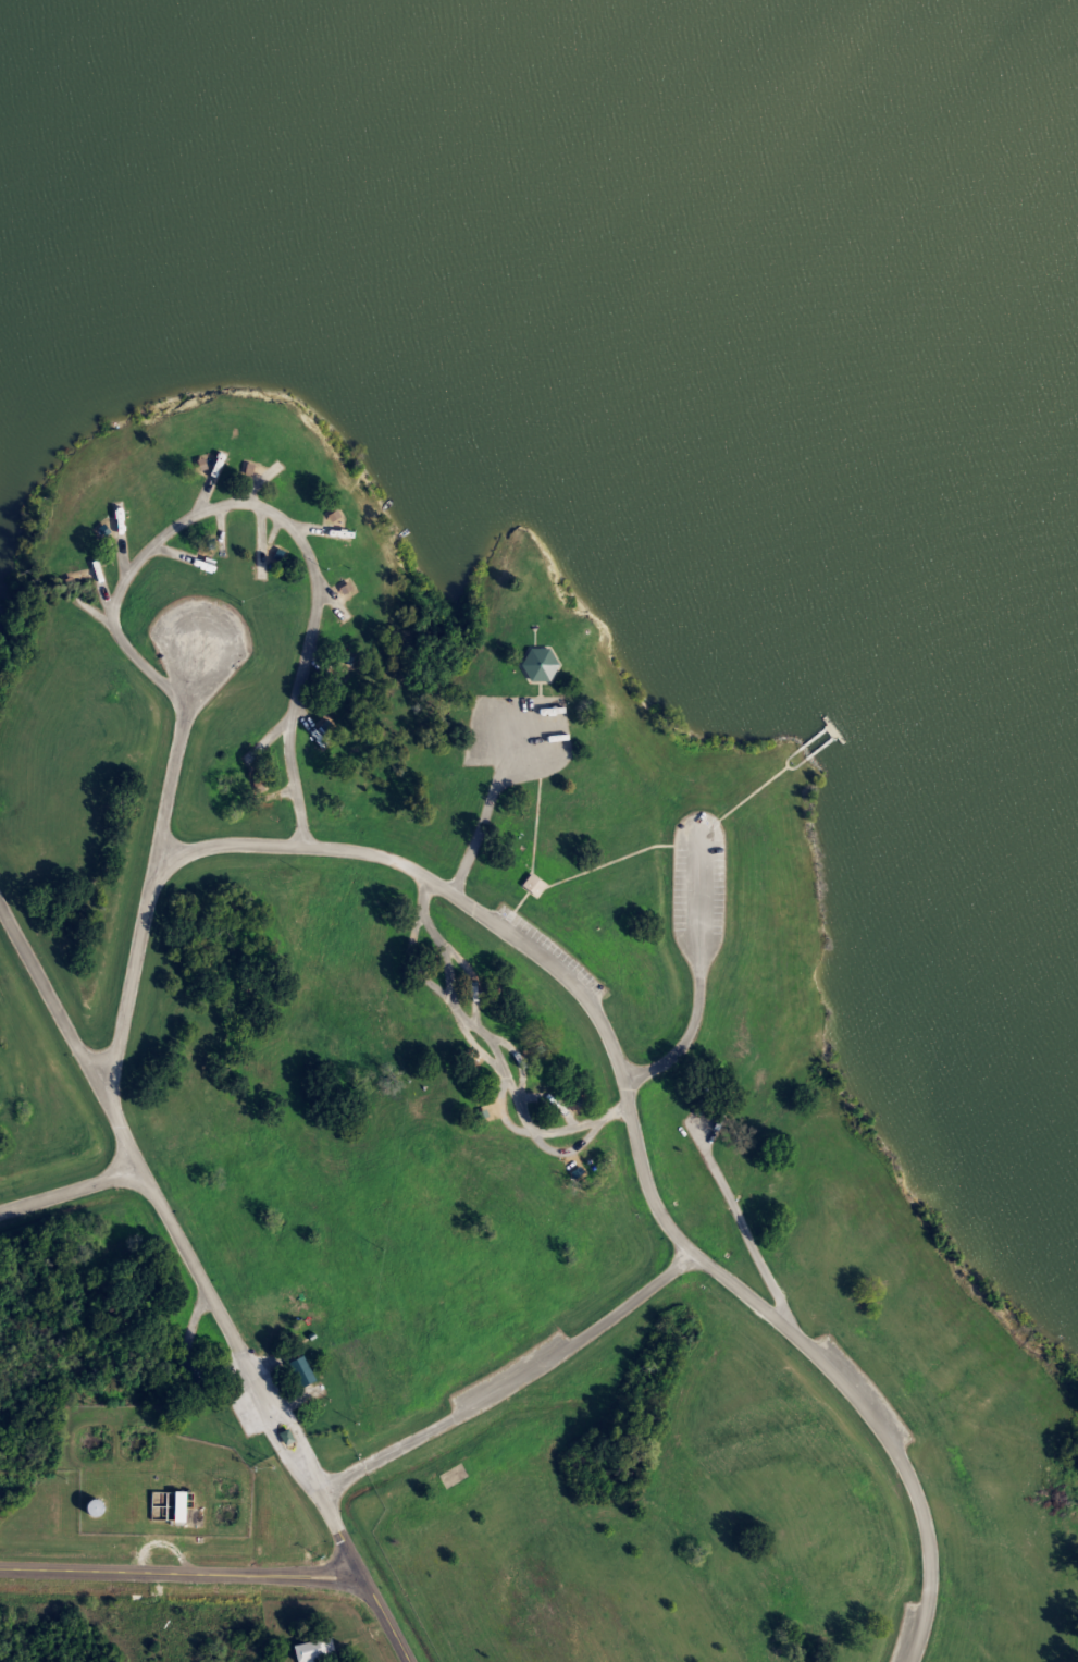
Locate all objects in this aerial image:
road: (121, 587)
building: (534, 663)
road: (515, 743)
road: (469, 837)
building: (532, 885)
road: (556, 970)
road: (695, 973)
road: (70, 1190)
road: (179, 1246)
building: (298, 1371)
road: (509, 1383)
road: (842, 1383)
building: (453, 1475)
building: (166, 1506)
building: (89, 1507)
road: (182, 1581)
road: (384, 1622)
building: (305, 1649)

